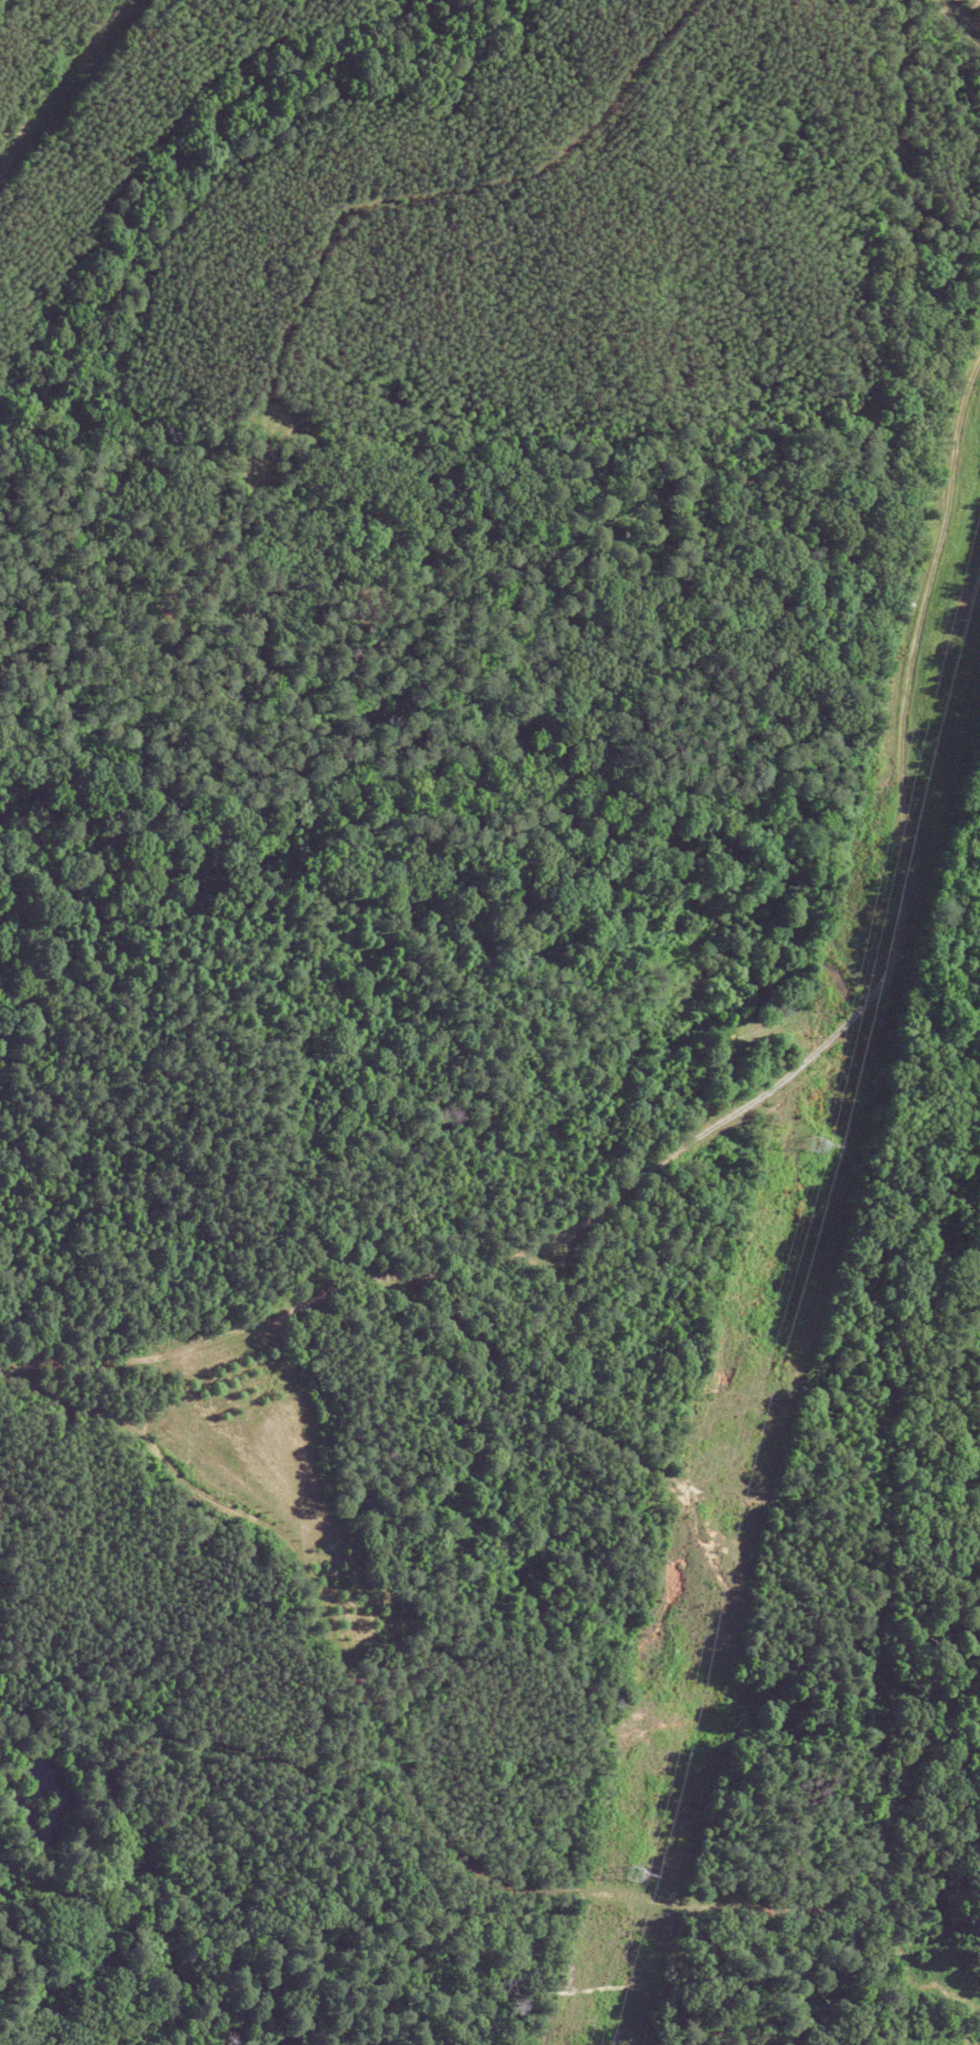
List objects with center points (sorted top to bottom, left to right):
power tower: (810, 1146)
power tower: (626, 1874)

